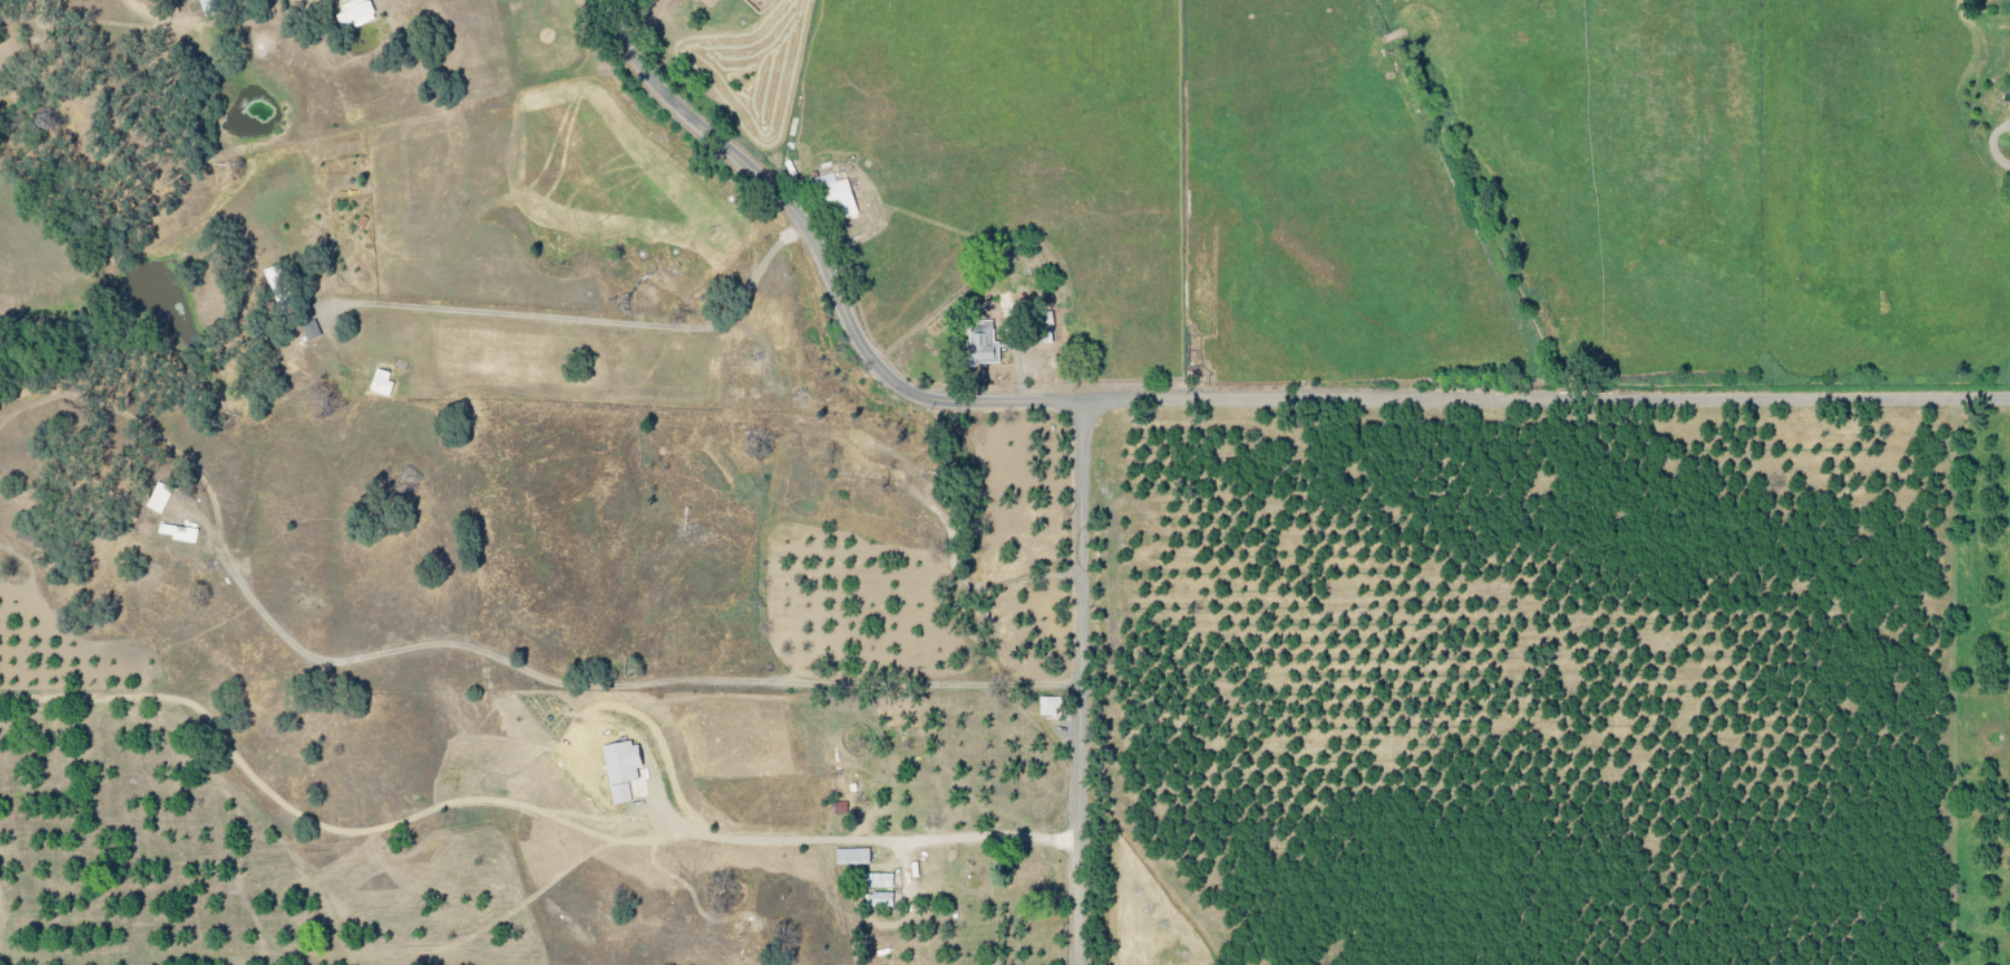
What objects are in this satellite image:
building: (703, 2)
building: (748, 4)
building: (351, 13)
road: (1990, 143)
building: (830, 195)
road: (587, 321)
building: (305, 331)
building: (978, 347)
building: (376, 383)
road: (1206, 401)
road: (855, 428)
building: (154, 498)
building: (174, 532)
road: (1079, 683)
road: (615, 693)
building: (616, 768)
road: (509, 797)
building: (848, 856)
building: (872, 880)
building: (875, 899)

